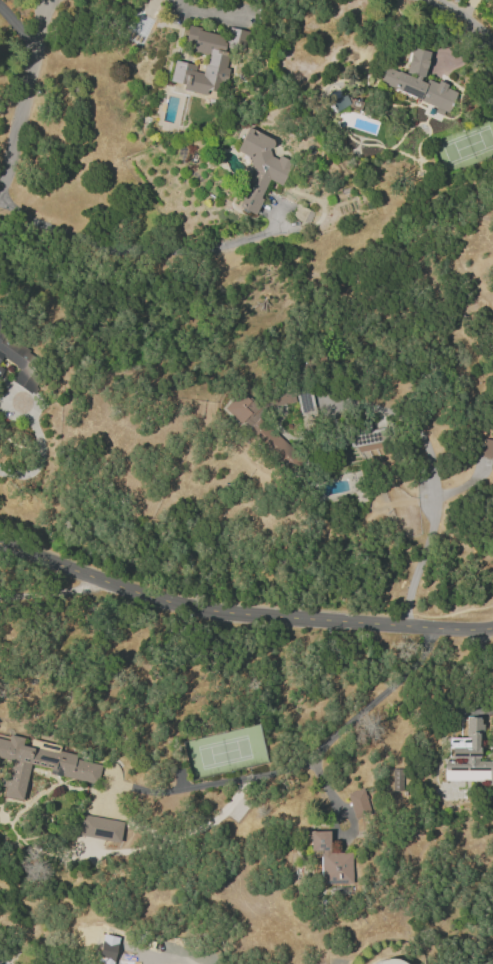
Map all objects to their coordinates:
road: (48, 2)
road: (203, 11)
road: (462, 19)
road: (18, 30)
building: (205, 60)
building: (417, 82)
road: (27, 92)
building: (338, 99)
building: (259, 167)
road: (147, 250)
building: (0, 321)
building: (20, 359)
building: (0, 368)
building: (277, 399)
building: (304, 401)
building: (265, 434)
building: (363, 438)
building: (486, 448)
road: (40, 453)
road: (432, 495)
road: (49, 593)
road: (240, 615)
building: (467, 756)
road: (301, 762)
building: (40, 764)
building: (395, 778)
building: (358, 802)
building: (99, 828)
building: (330, 860)
building: (388, 961)

